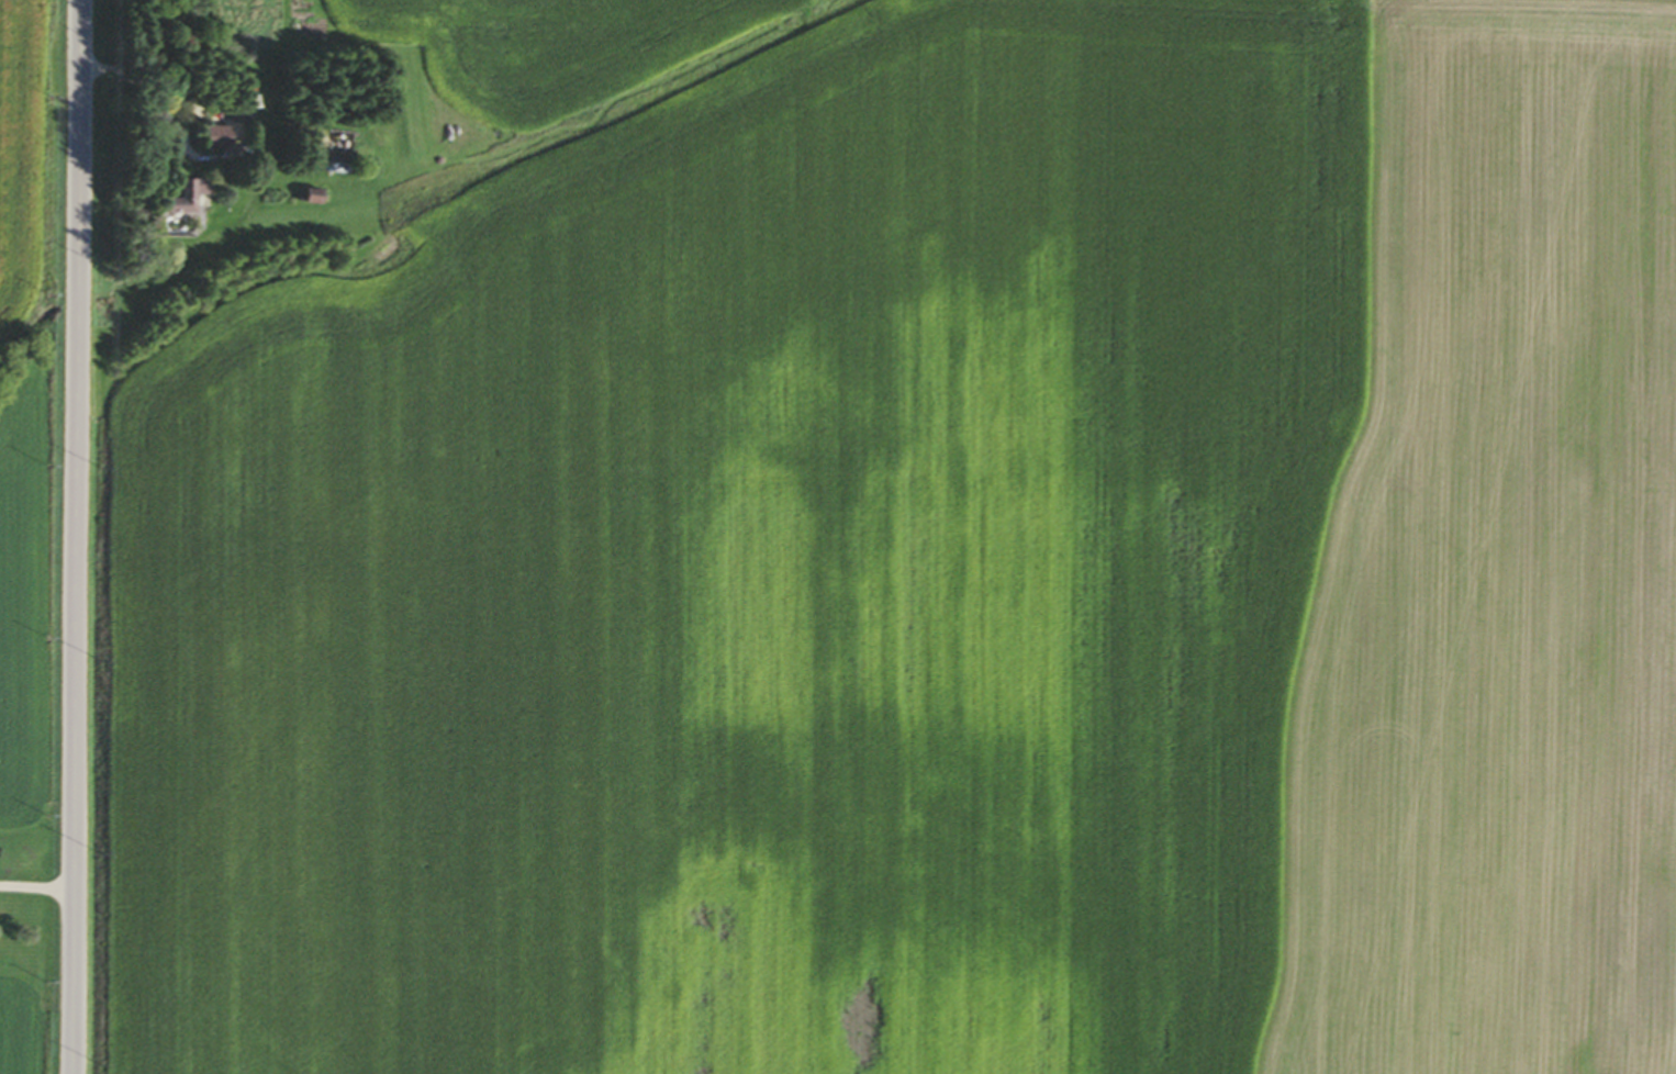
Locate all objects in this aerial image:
building: (177, 195)
building: (306, 195)
road: (77, 536)
road: (37, 884)

